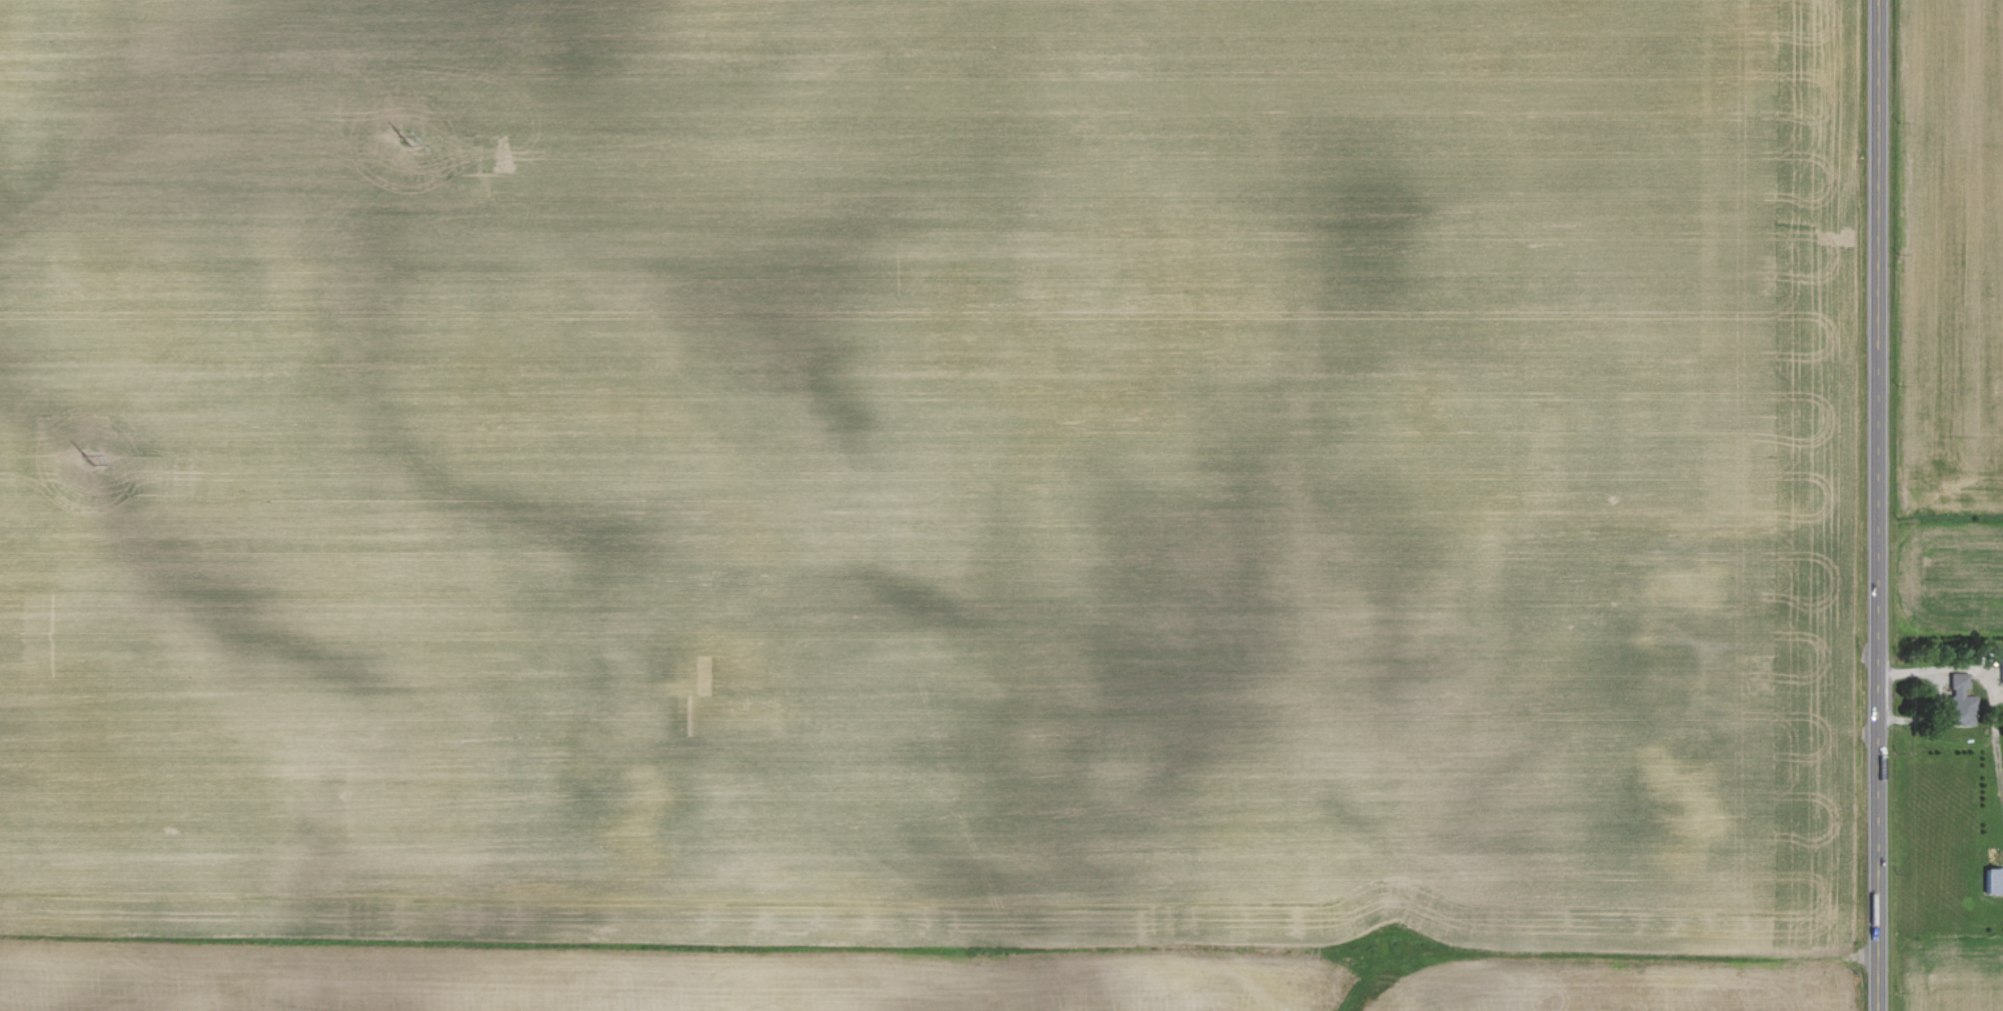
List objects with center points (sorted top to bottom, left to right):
power tower: (406, 141)
power tower: (89, 459)
road: (1875, 505)
building: (1958, 684)
building: (1994, 881)

